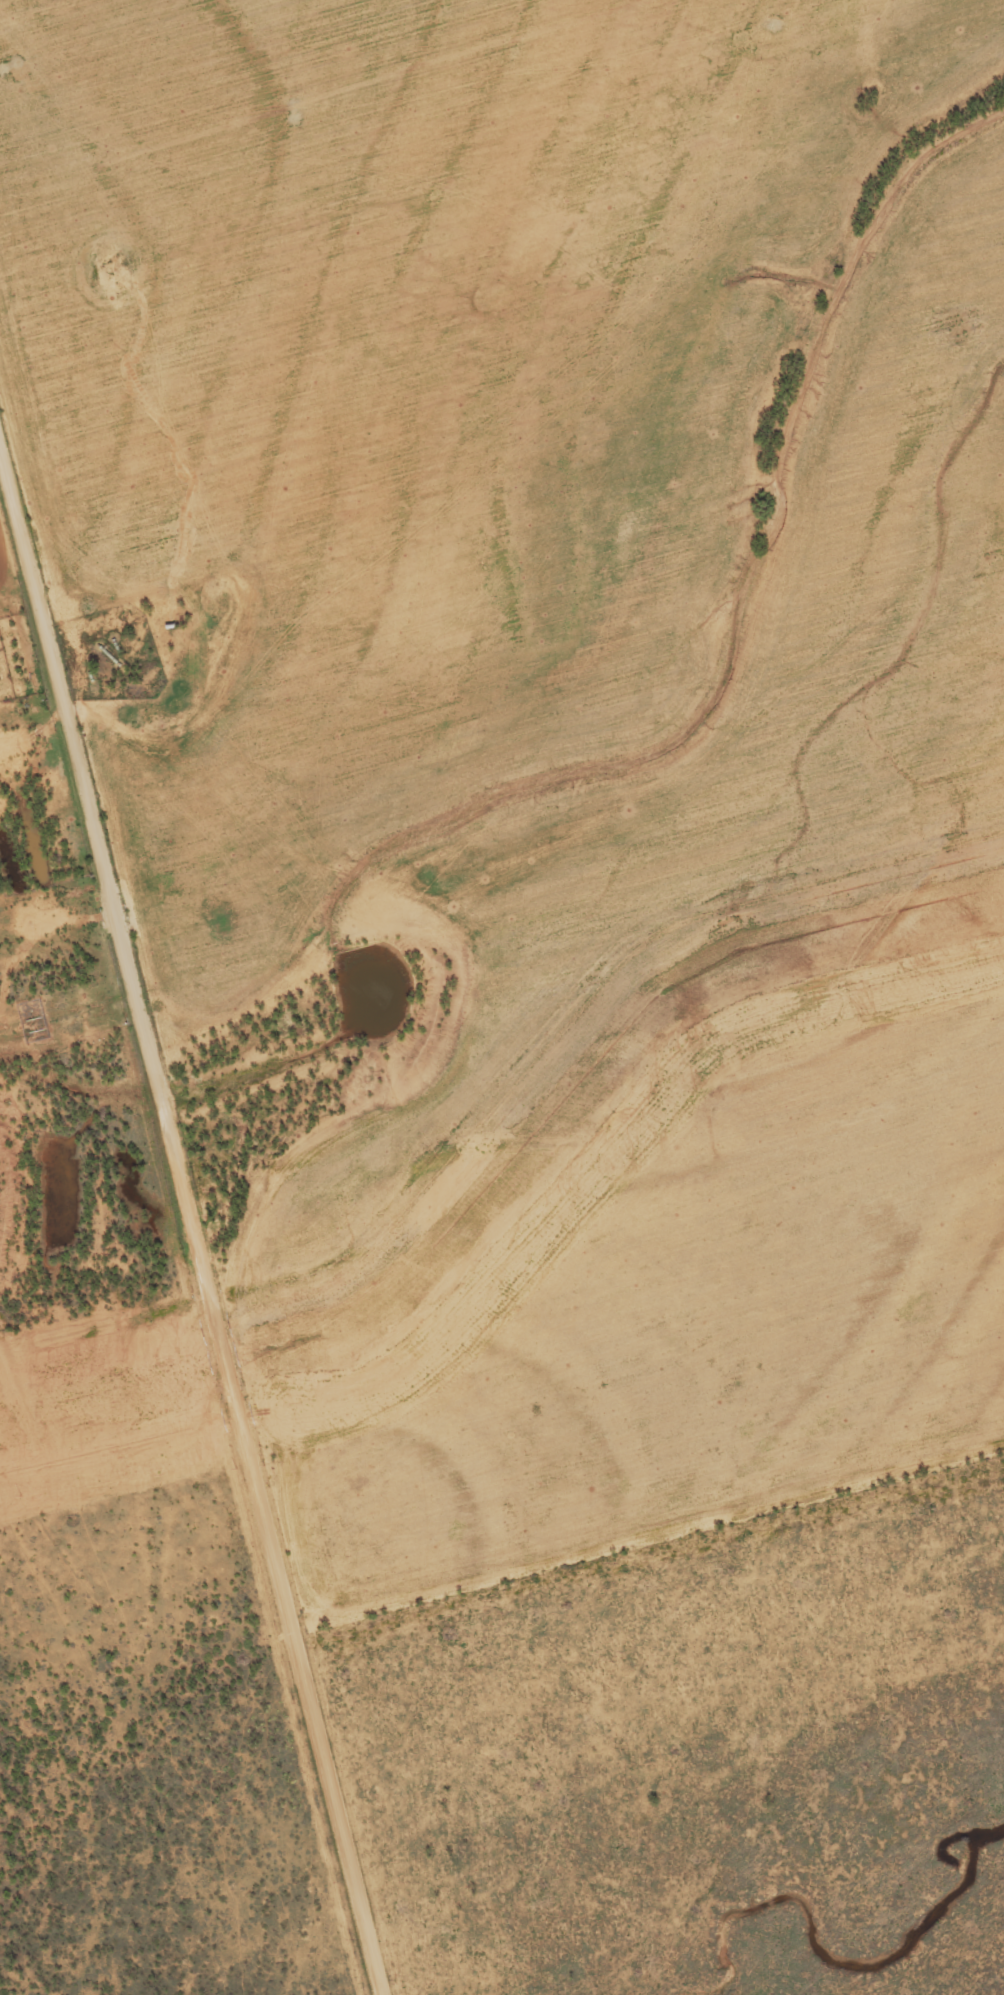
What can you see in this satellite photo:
road: (186, 1242)

